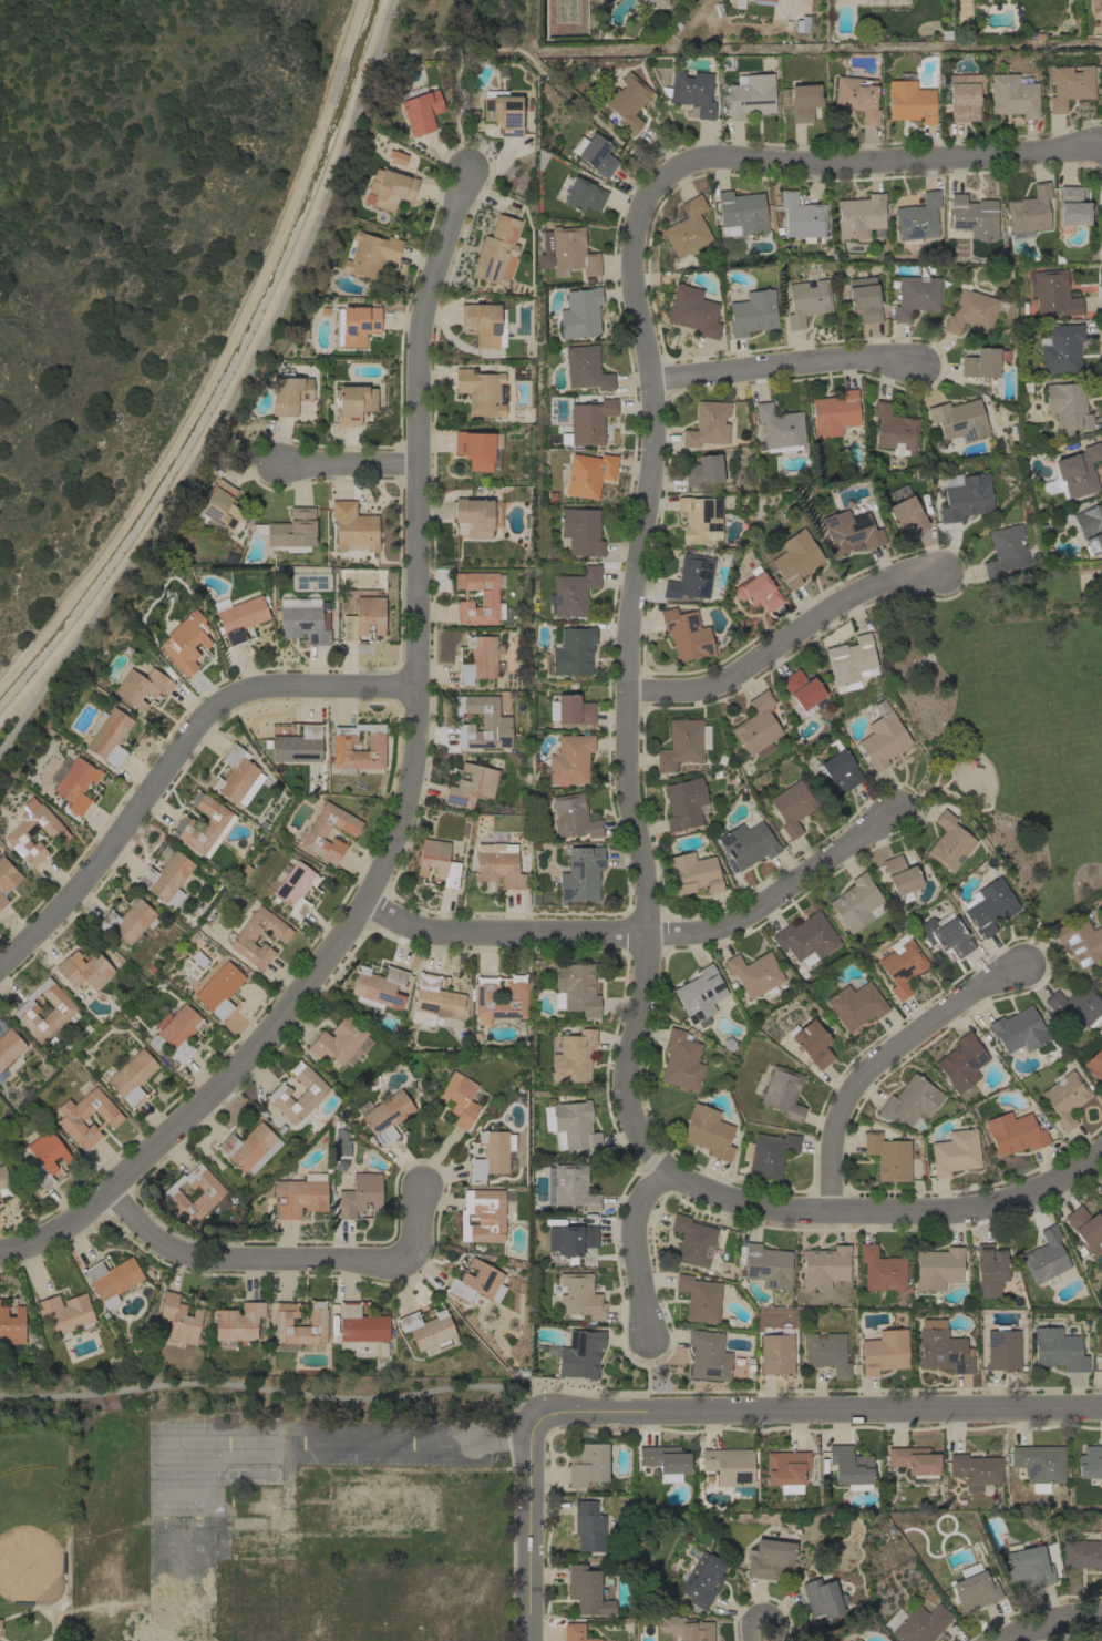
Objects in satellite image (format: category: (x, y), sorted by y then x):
building: (763, 2)
building: (659, 3)
building: (738, 3)
building: (1095, 3)
building: (802, 24)
building: (786, 25)
building: (946, 31)
road: (534, 65)
building: (1070, 85)
building: (691, 92)
building: (750, 95)
building: (856, 95)
building: (1012, 96)
building: (962, 99)
building: (909, 100)
building: (627, 101)
building: (803, 102)
building: (420, 109)
building: (503, 111)
building: (594, 154)
road: (888, 163)
building: (392, 189)
building: (583, 195)
building: (1071, 208)
building: (1028, 212)
building: (741, 213)
building: (859, 215)
building: (974, 216)
building: (802, 217)
building: (918, 218)
building: (687, 228)
building: (497, 250)
building: (567, 252)
building: (370, 254)
building: (1053, 294)
building: (915, 296)
building: (806, 301)
building: (865, 302)
building: (692, 311)
building: (972, 311)
building: (579, 312)
building: (752, 312)
building: (483, 324)
building: (354, 325)
building: (1060, 348)
building: (983, 361)
road: (783, 367)
building: (585, 368)
building: (481, 391)
road: (234, 392)
building: (289, 392)
building: (353, 403)
building: (1068, 407)
building: (834, 413)
building: (959, 420)
building: (589, 421)
building: (708, 424)
building: (779, 428)
building: (893, 428)
building: (477, 449)
road: (346, 462)
building: (703, 471)
building: (1073, 472)
building: (588, 474)
building: (965, 496)
building: (219, 507)
building: (905, 510)
building: (477, 515)
building: (700, 520)
building: (353, 526)
building: (1086, 526)
building: (292, 531)
building: (580, 531)
building: (851, 531)
building: (1005, 551)
building: (795, 557)
building: (690, 577)
building: (756, 589)
building: (571, 592)
building: (488, 595)
building: (239, 616)
building: (363, 617)
building: (302, 620)
building: (686, 634)
building: (185, 642)
road: (785, 643)
building: (573, 652)
building: (480, 658)
building: (851, 663)
building: (142, 687)
building: (802, 690)
building: (569, 709)
park: (1012, 719)
building: (482, 722)
building: (758, 726)
building: (107, 735)
building: (883, 740)
building: (682, 743)
building: (298, 745)
building: (341, 746)
road: (172, 757)
building: (570, 758)
building: (840, 767)
building: (237, 776)
building: (73, 782)
building: (472, 784)
road: (406, 794)
building: (684, 803)
building: (792, 806)
building: (570, 814)
building: (204, 824)
building: (317, 830)
building: (32, 831)
building: (949, 842)
building: (746, 845)
building: (437, 861)
building: (498, 864)
building: (693, 873)
building: (7, 874)
building: (580, 874)
building: (166, 875)
building: (900, 878)
building: (134, 880)
building: (292, 886)
road: (647, 890)
road: (777, 894)
building: (2, 900)
building: (857, 903)
building: (990, 905)
building: (128, 920)
road: (502, 930)
building: (246, 934)
building: (946, 934)
building: (806, 939)
building: (1080, 941)
building: (902, 964)
building: (85, 970)
building: (754, 973)
building: (378, 987)
building: (575, 988)
building: (218, 989)
building: (700, 995)
building: (483, 996)
building: (434, 1001)
building: (855, 1005)
building: (1078, 1008)
building: (62, 1012)
building: (1019, 1029)
building: (176, 1030)
building: (341, 1040)
building: (811, 1043)
building: (8, 1047)
building: (571, 1056)
road: (878, 1058)
building: (681, 1060)
building: (961, 1061)
building: (1094, 1064)
building: (130, 1077)
building: (312, 1091)
building: (783, 1093)
building: (1065, 1098)
building: (459, 1099)
building: (910, 1100)
building: (384, 1115)
building: (70, 1119)
building: (570, 1125)
building: (708, 1131)
building: (1013, 1132)
building: (341, 1145)
building: (249, 1148)
building: (955, 1152)
building: (493, 1153)
building: (768, 1153)
building: (888, 1155)
building: (42, 1157)
building: (3, 1181)
building: (569, 1187)
building: (359, 1194)
building: (209, 1196)
building: (300, 1196)
building: (1101, 1196)
building: (495, 1219)
building: (1084, 1231)
building: (570, 1240)
building: (692, 1241)
road: (637, 1250)
building: (1044, 1257)
road: (284, 1259)
building: (768, 1265)
building: (990, 1265)
building: (824, 1266)
building: (938, 1268)
building: (883, 1273)
building: (112, 1280)
building: (476, 1281)
building: (577, 1295)
building: (700, 1298)
building: (66, 1313)
building: (179, 1319)
building: (317, 1322)
building: (237, 1323)
building: (361, 1324)
building: (11, 1325)
building: (429, 1331)
building: (1058, 1348)
building: (1002, 1350)
building: (943, 1351)
building: (884, 1352)
building: (576, 1353)
building: (776, 1353)
building: (826, 1353)
building: (708, 1355)
building: (1100, 1364)
road: (278, 1389)
road: (813, 1414)
building: (666, 1461)
building: (915, 1463)
building: (1040, 1463)
building: (1090, 1463)
building: (587, 1465)
building: (849, 1467)
building: (731, 1468)
building: (786, 1469)
building: (975, 1470)
building: (384, 1506)
building: (247, 1520)
building: (589, 1526)
park: (254, 1531)
park: (30, 1535)
building: (270, 1535)
road: (531, 1538)
building: (1083, 1551)
building: (769, 1558)
building: (1029, 1567)
building: (702, 1579)
building: (974, 1588)
building: (586, 1590)
building: (823, 1598)
road: (17, 1612)
building: (916, 1623)
road: (1049, 1623)
building: (684, 1629)
building: (576, 1632)
road: (761, 1638)
road: (1, 1639)

